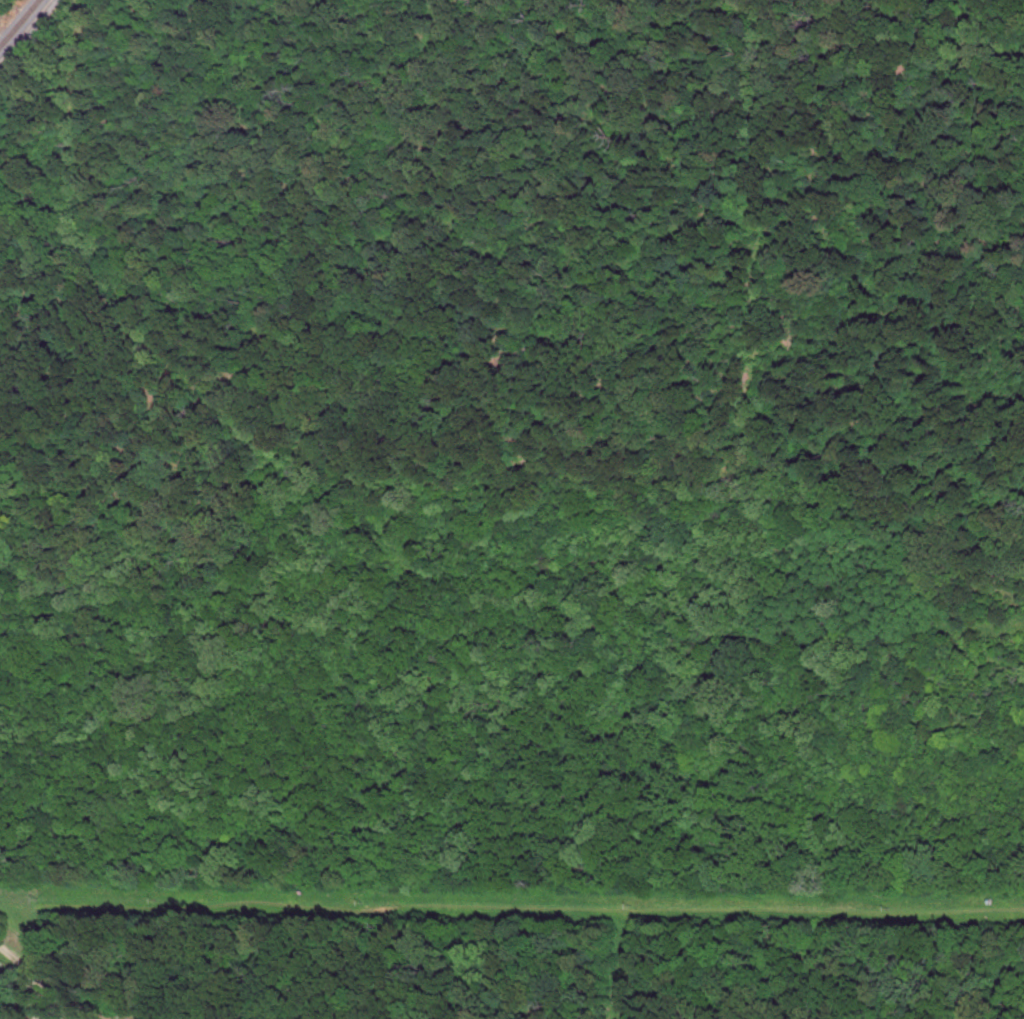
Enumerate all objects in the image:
railway: (19, 23)
railway: (25, 29)
road: (41, 962)

